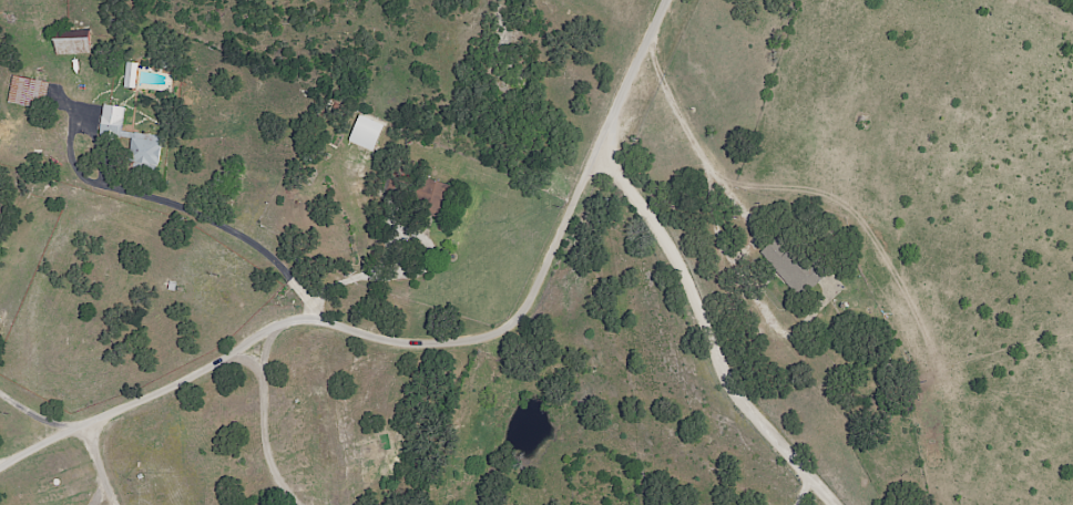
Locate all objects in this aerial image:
building: (72, 45)
building: (130, 74)
building: (28, 90)
building: (366, 133)
building: (131, 136)
road: (589, 171)
building: (433, 195)
road: (734, 198)
building: (0, 206)
road: (239, 237)
building: (795, 268)
road: (357, 276)
road: (711, 332)
road: (243, 350)
road: (269, 351)
road: (268, 412)
road: (33, 416)
road: (99, 464)
road: (804, 492)

